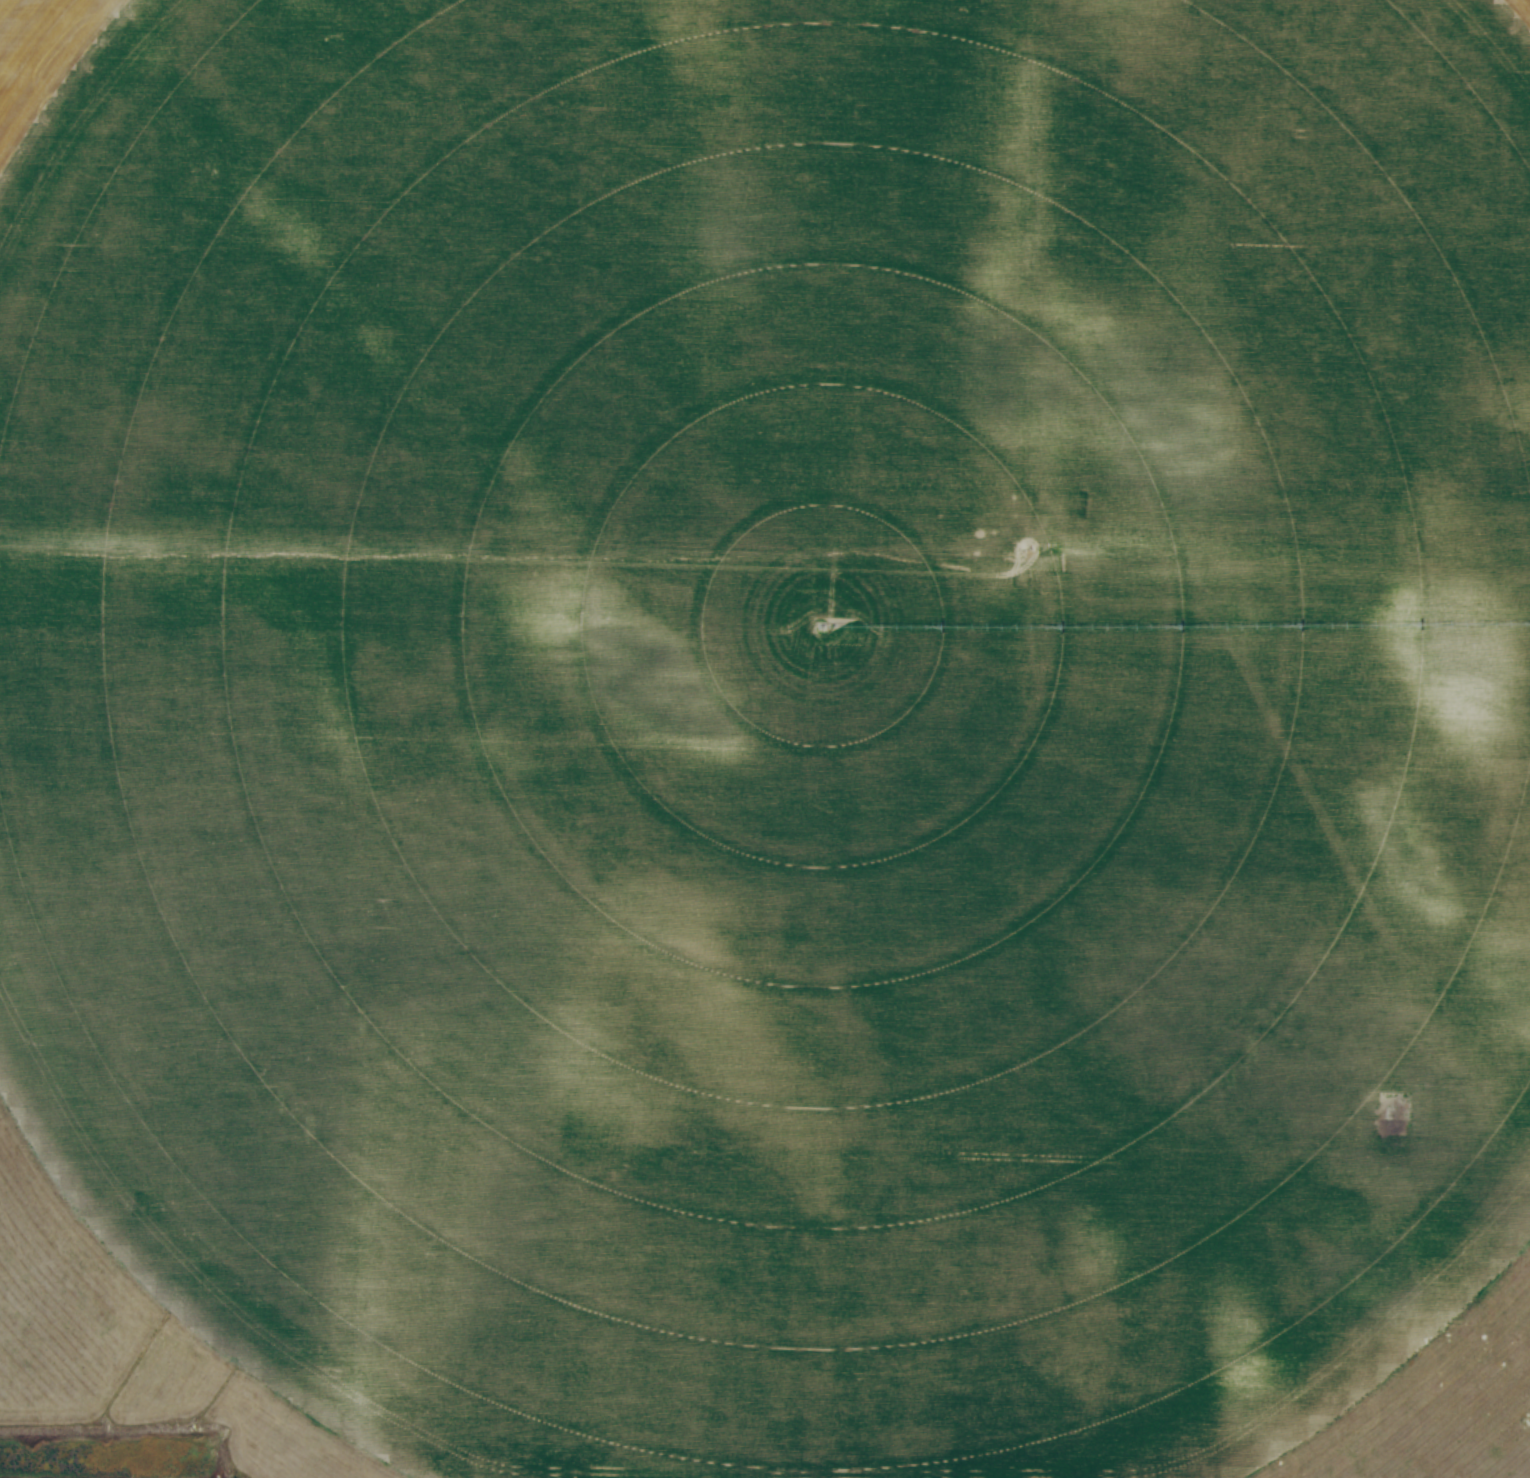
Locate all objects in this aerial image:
crop: (773, 711)

